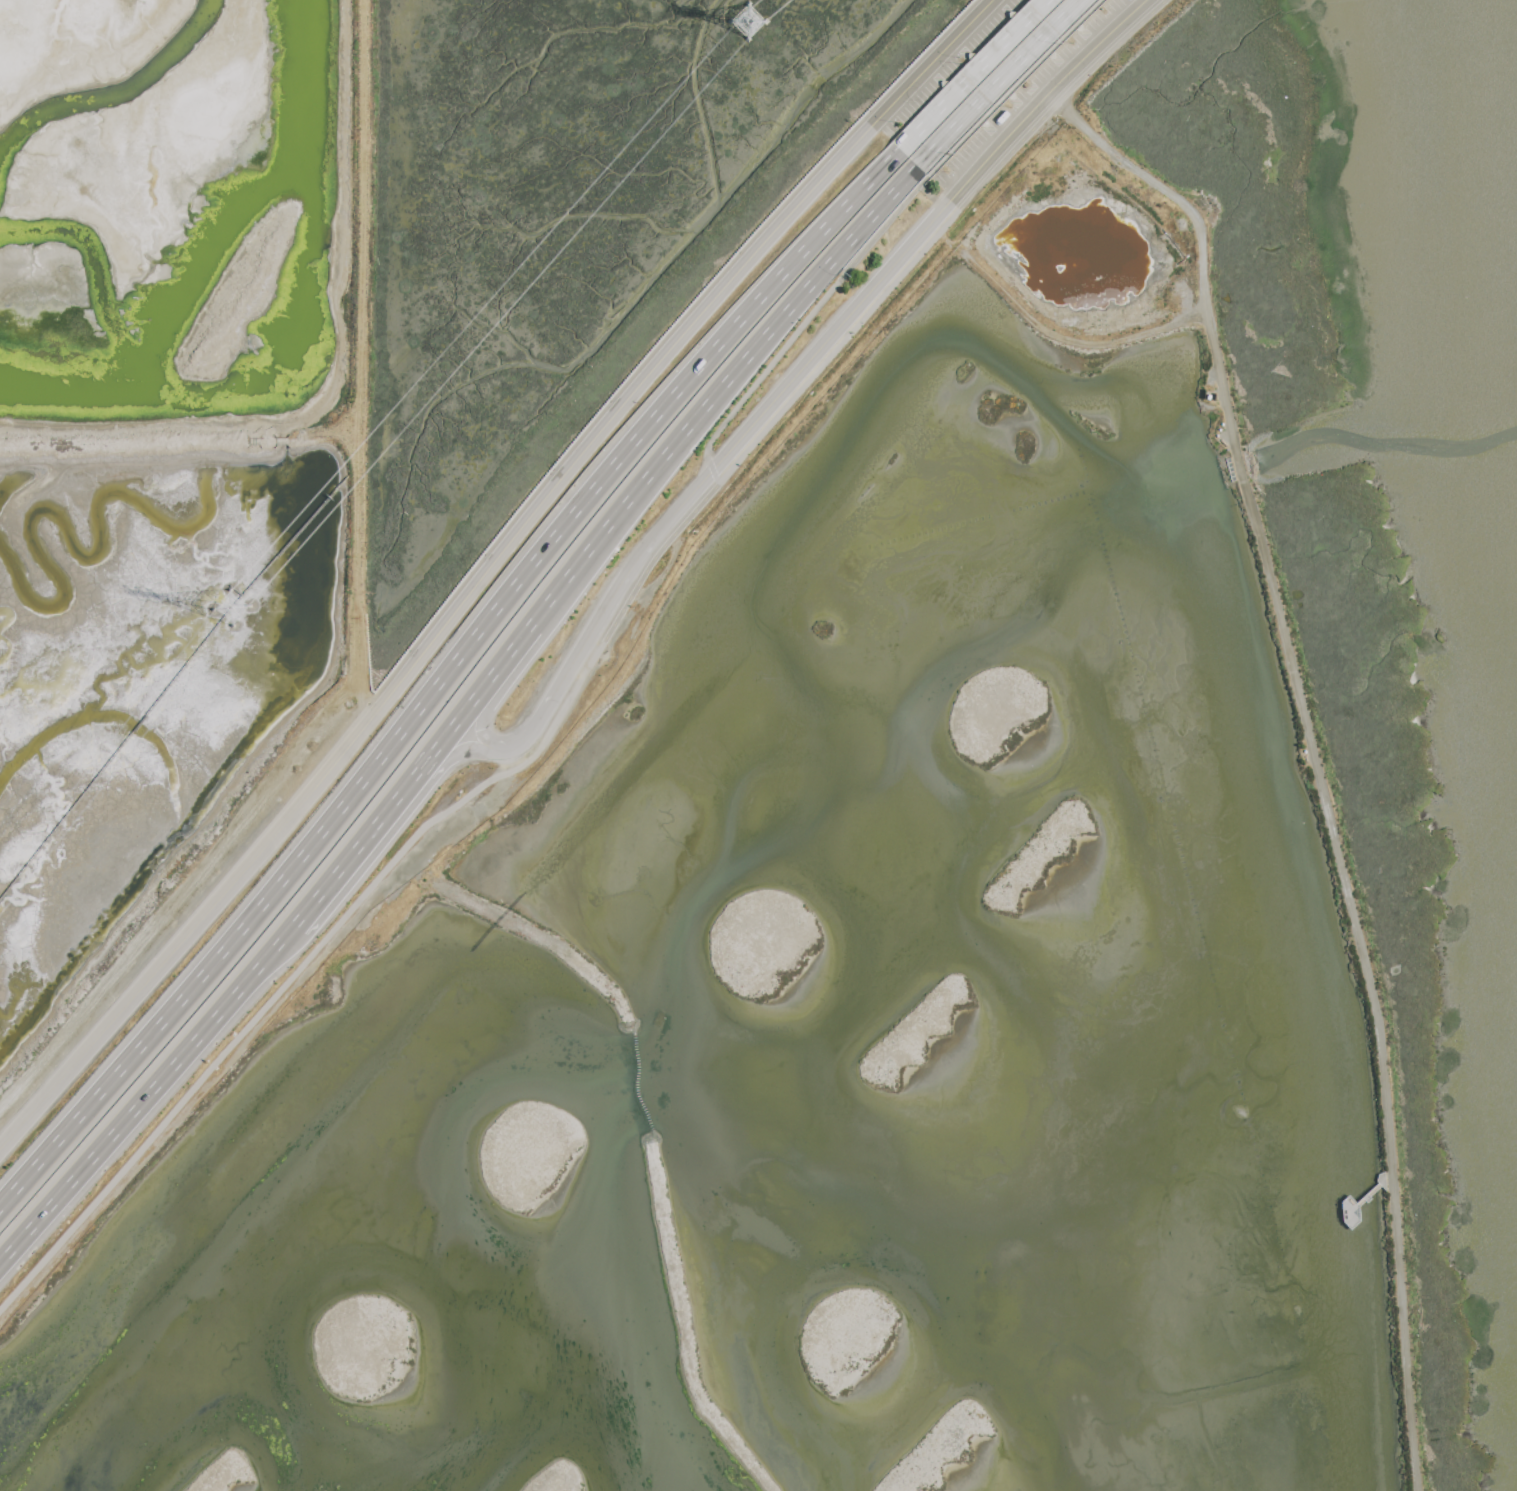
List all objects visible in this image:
power tower: (746, 26)
street lamp: (1073, 45)
building: (1020, 46)
street lamp: (959, 59)
parking lot: (952, 66)
road: (976, 75)
road: (1002, 84)
road: (1013, 87)
parking lot: (1031, 90)
street lamp: (1010, 108)
street lamp: (896, 124)
street lamp: (947, 172)
road: (941, 206)
street lamp: (849, 278)
road: (359, 309)
road: (803, 329)
road: (811, 363)
road: (682, 444)
road: (491, 571)
power tower: (242, 612)
road: (589, 663)
road: (362, 670)
road: (448, 679)
road: (481, 742)
road: (441, 748)
road: (1311, 764)
road: (359, 850)
road: (148, 1101)
road: (1384, 1177)
road: (1370, 1193)
road: (1359, 1205)

